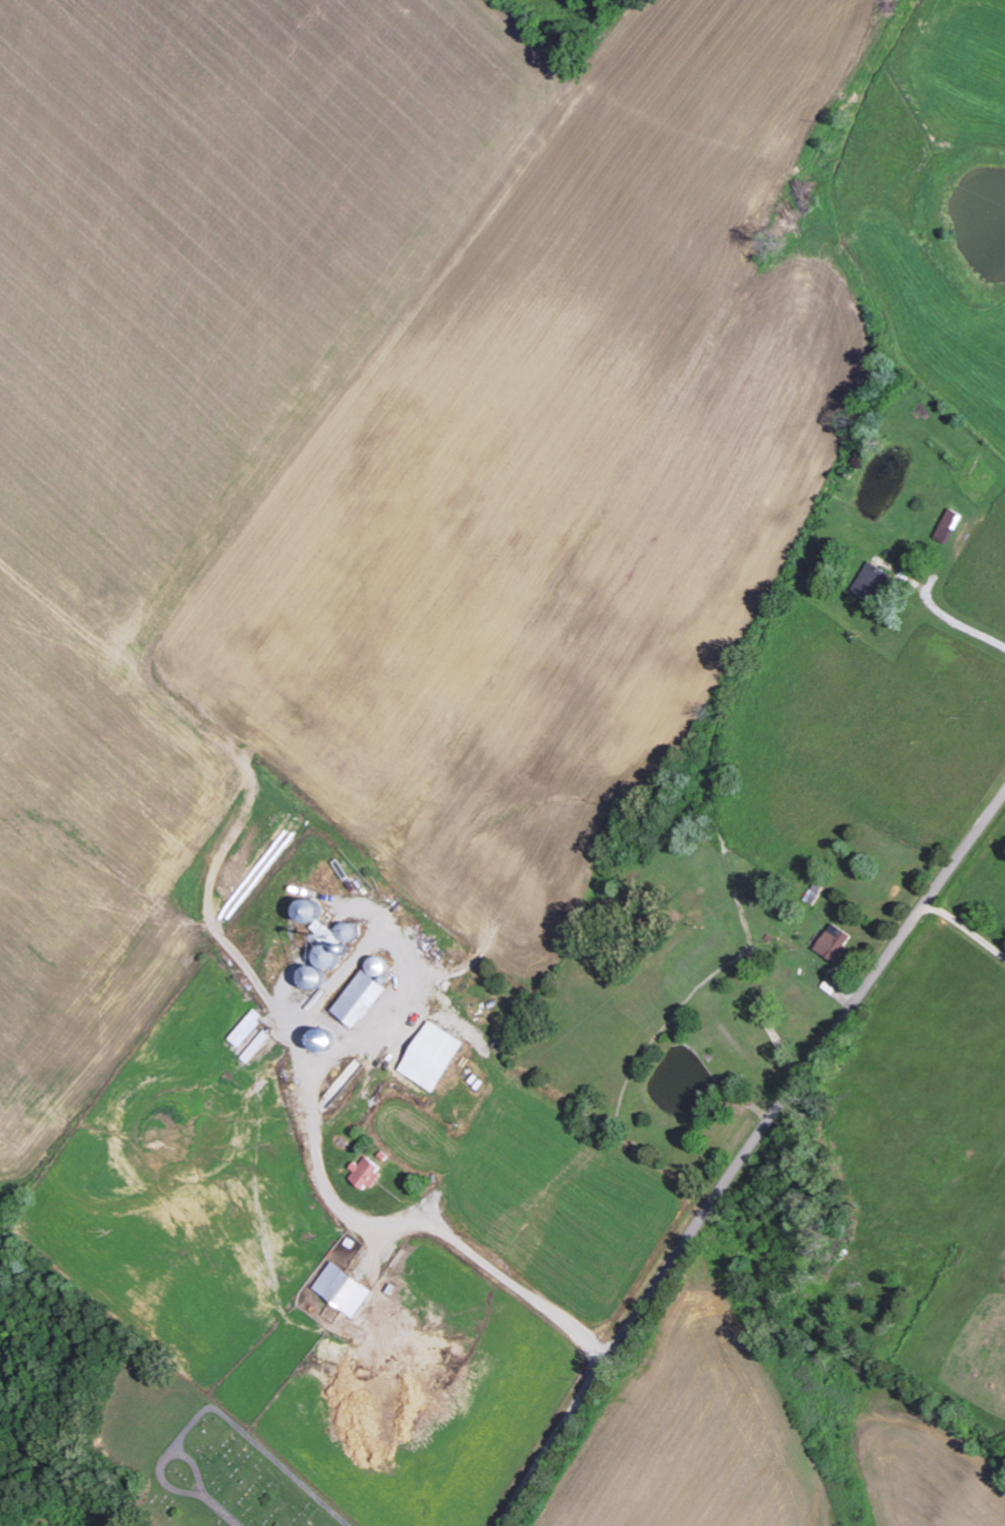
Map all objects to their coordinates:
building: (946, 525)
building: (320, 941)
building: (837, 945)
building: (360, 993)
building: (430, 1056)
road: (744, 1151)
building: (363, 1174)
building: (341, 1290)
park: (188, 1455)

